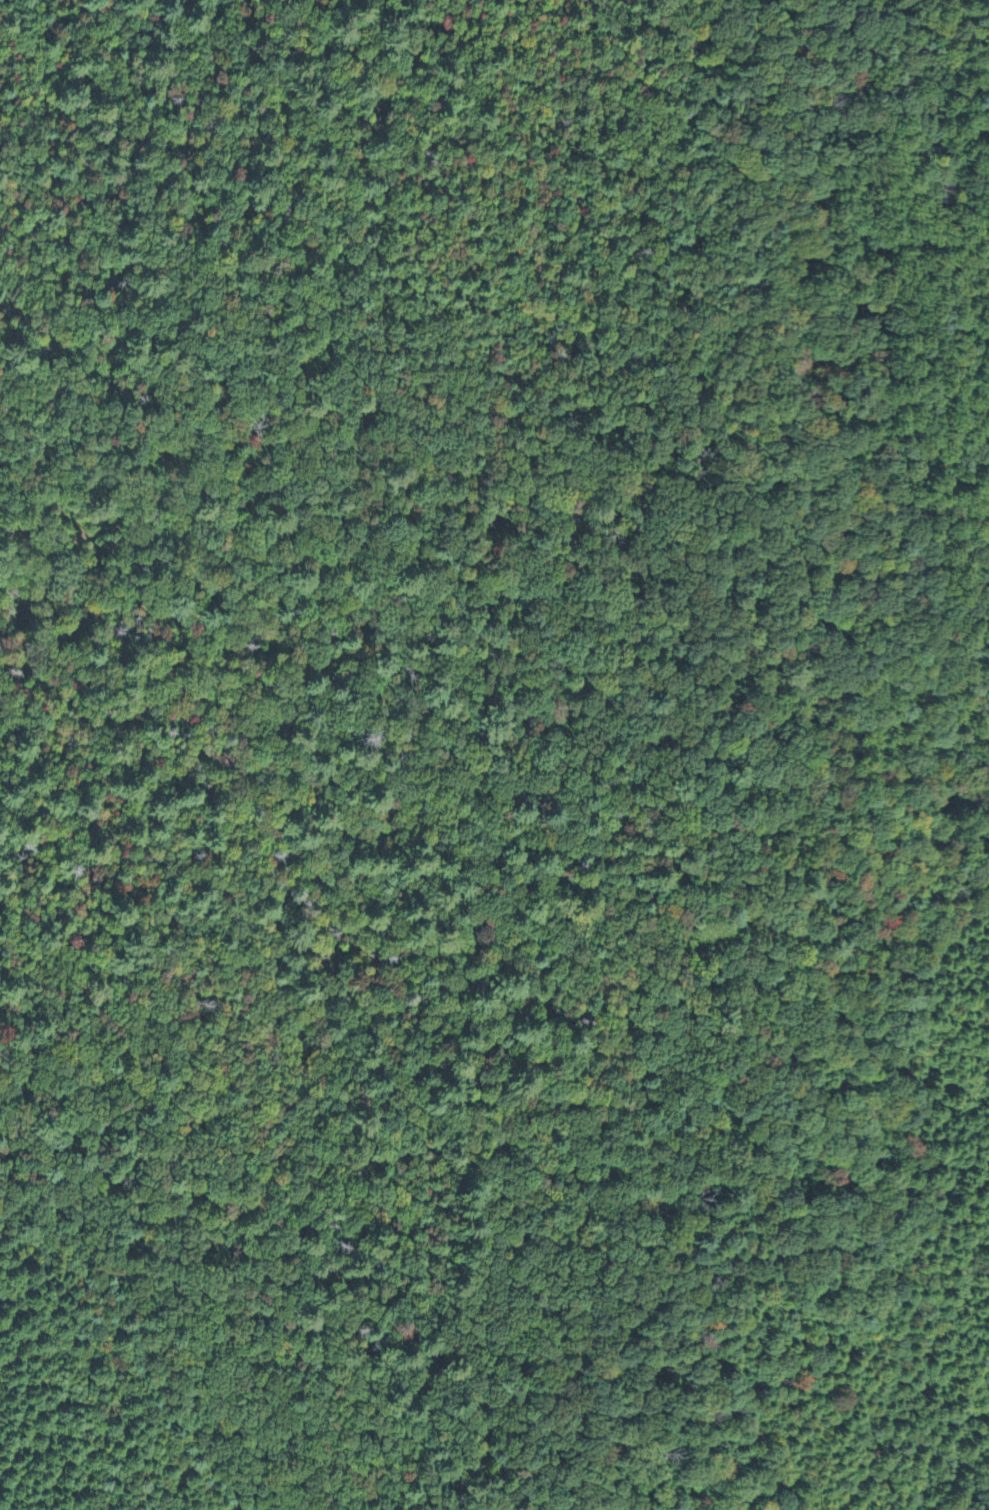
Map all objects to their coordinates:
road: (928, 1441)

